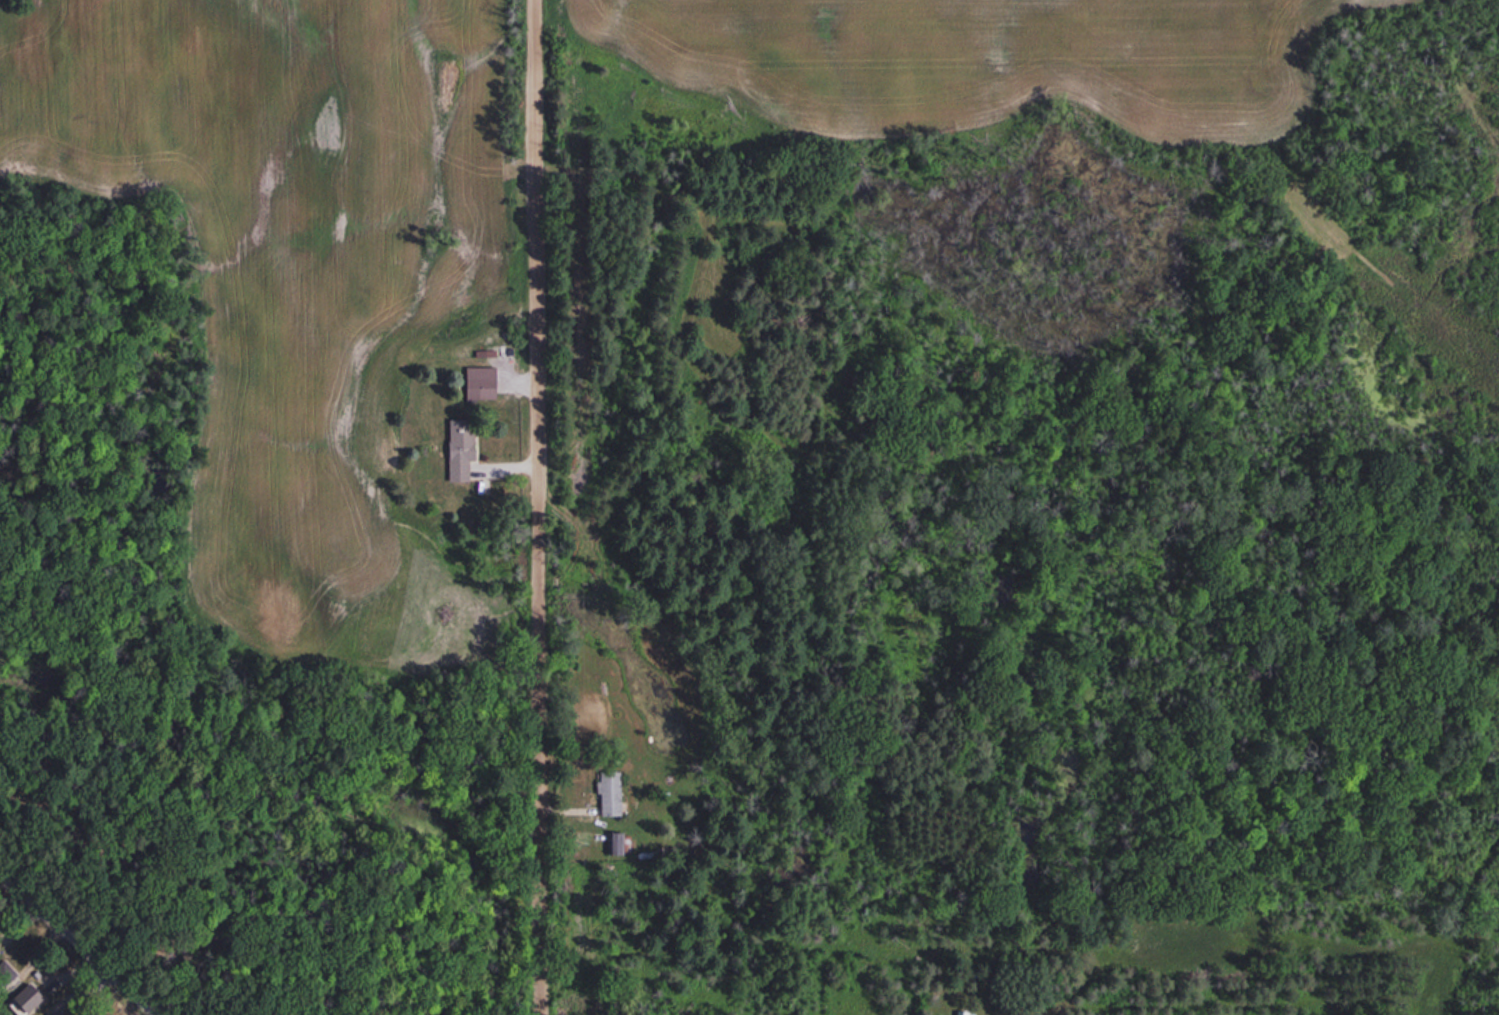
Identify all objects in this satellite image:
building: (479, 383)
building: (459, 449)
road: (541, 507)
building: (607, 792)
road: (84, 942)
building: (4, 973)
building: (27, 1003)

